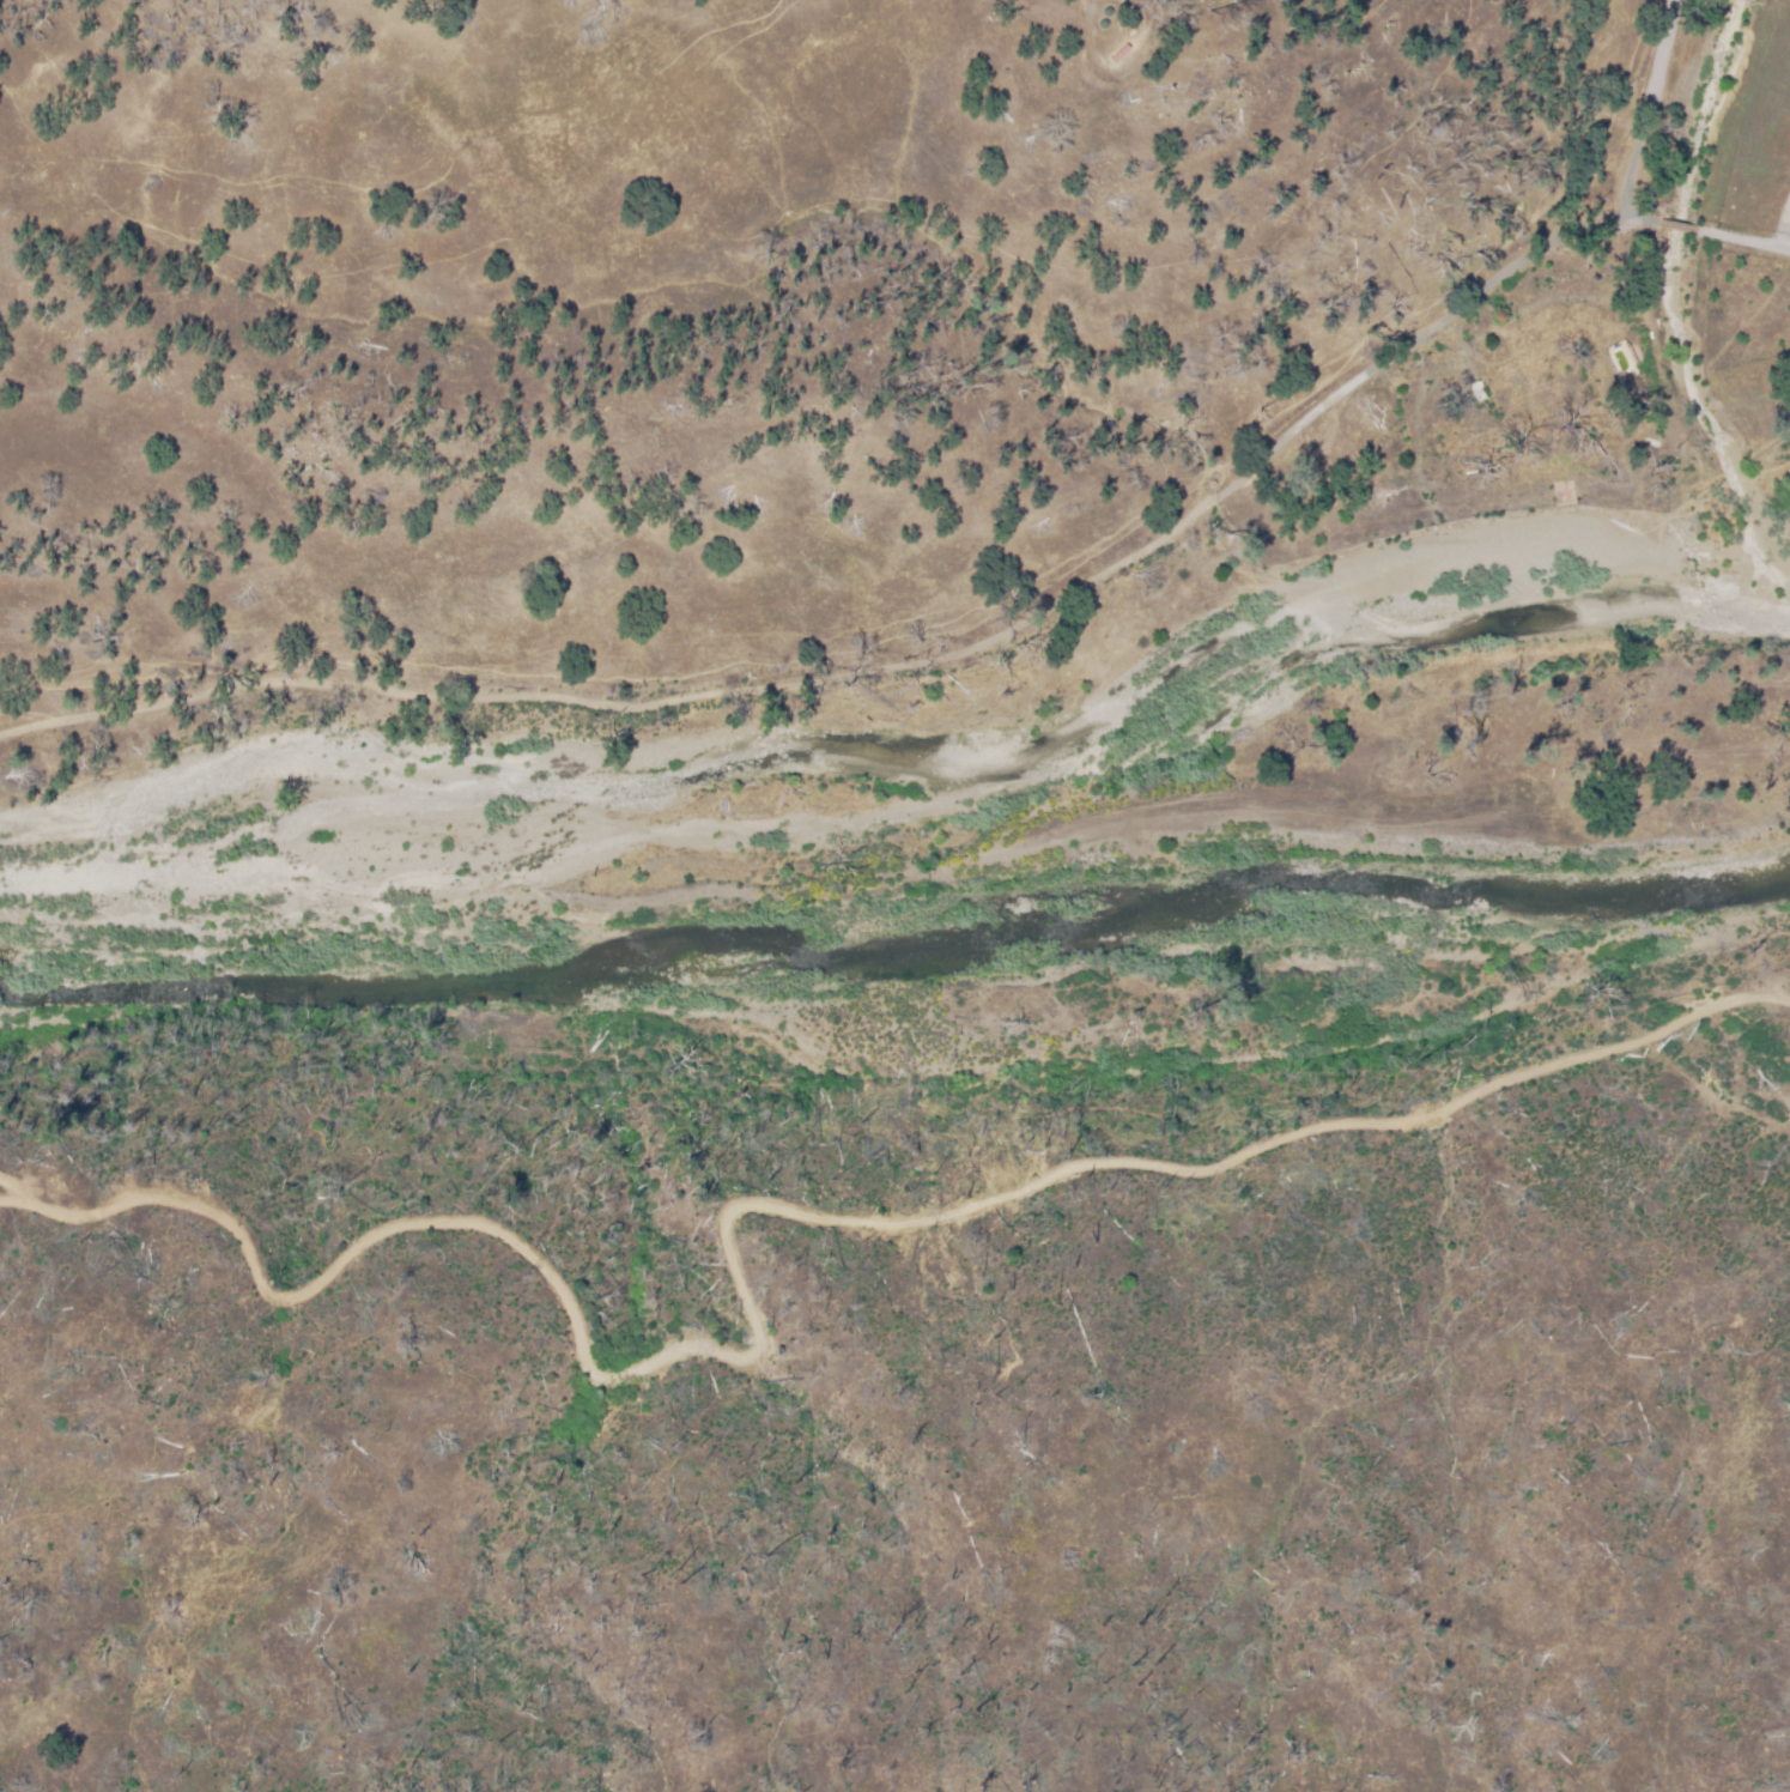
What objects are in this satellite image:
road: (1650, 108)
road: (1681, 225)
road: (1754, 240)
building: (1540, 402)
building: (1480, 425)
road: (887, 665)
road: (800, 1217)

